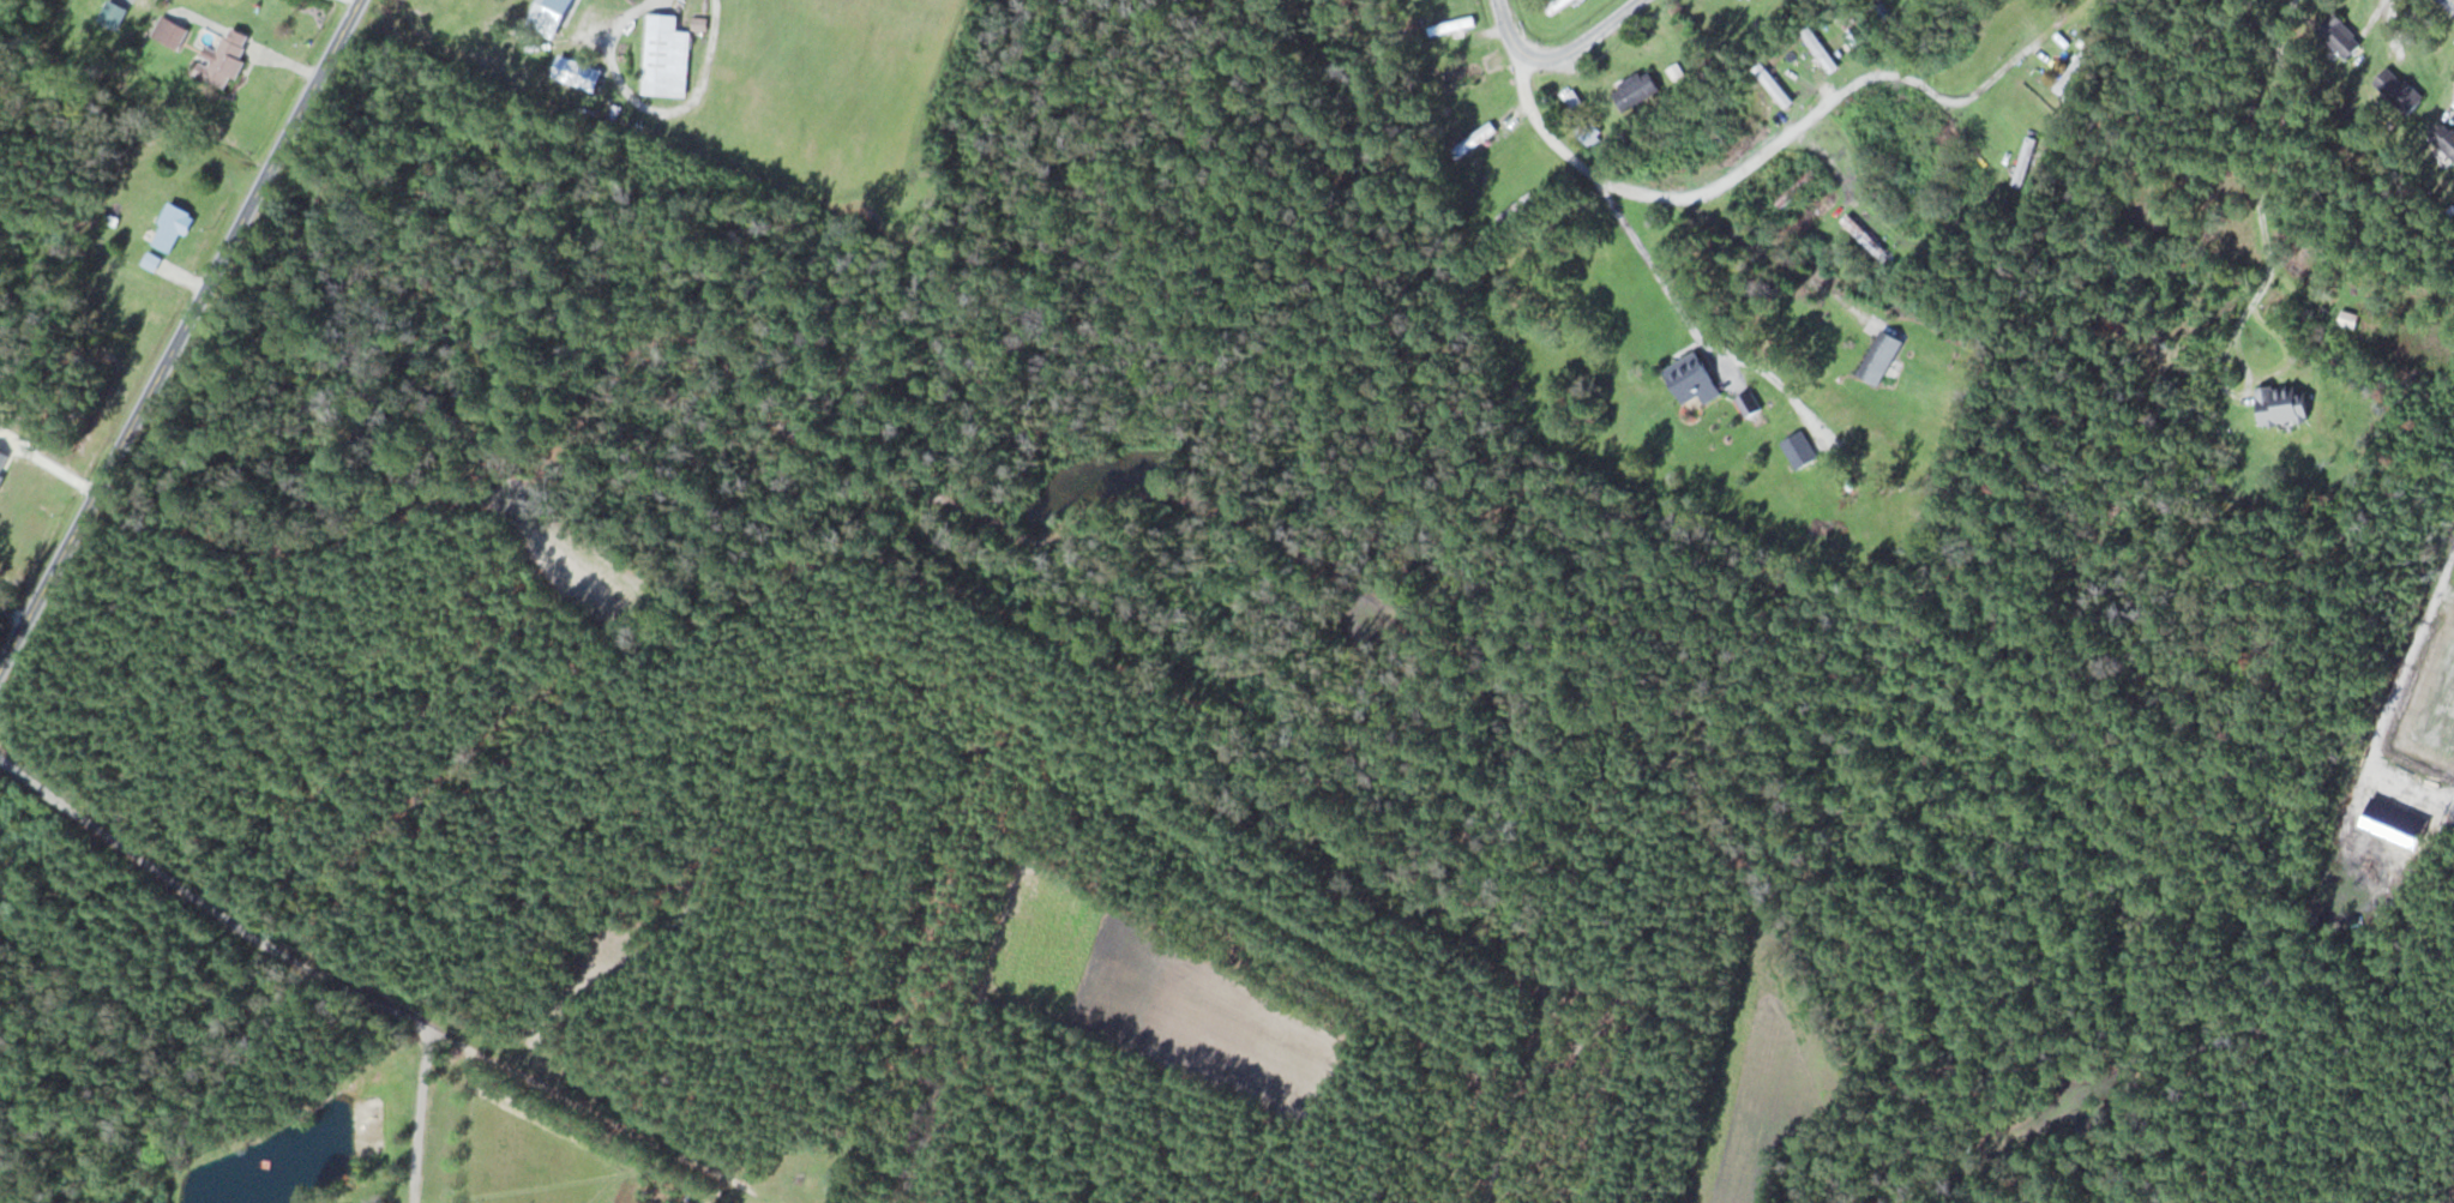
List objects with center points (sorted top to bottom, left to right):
road: (357, 1)
building: (1556, 5)
building: (548, 16)
building: (2341, 35)
building: (1820, 48)
road: (1556, 54)
building: (666, 55)
building: (225, 58)
building: (1677, 71)
building: (2071, 71)
building: (577, 72)
building: (1462, 74)
building: (1773, 84)
building: (1636, 89)
building: (2399, 89)
road: (1799, 124)
building: (1713, 131)
building: (1475, 138)
road: (2264, 145)
road: (624, 160)
building: (2025, 160)
building: (1797, 187)
building: (169, 228)
building: (1863, 235)
building: (2348, 318)
road: (182, 338)
building: (1881, 356)
road: (2267, 377)
building: (1692, 379)
building: (2284, 403)
building: (1799, 449)

